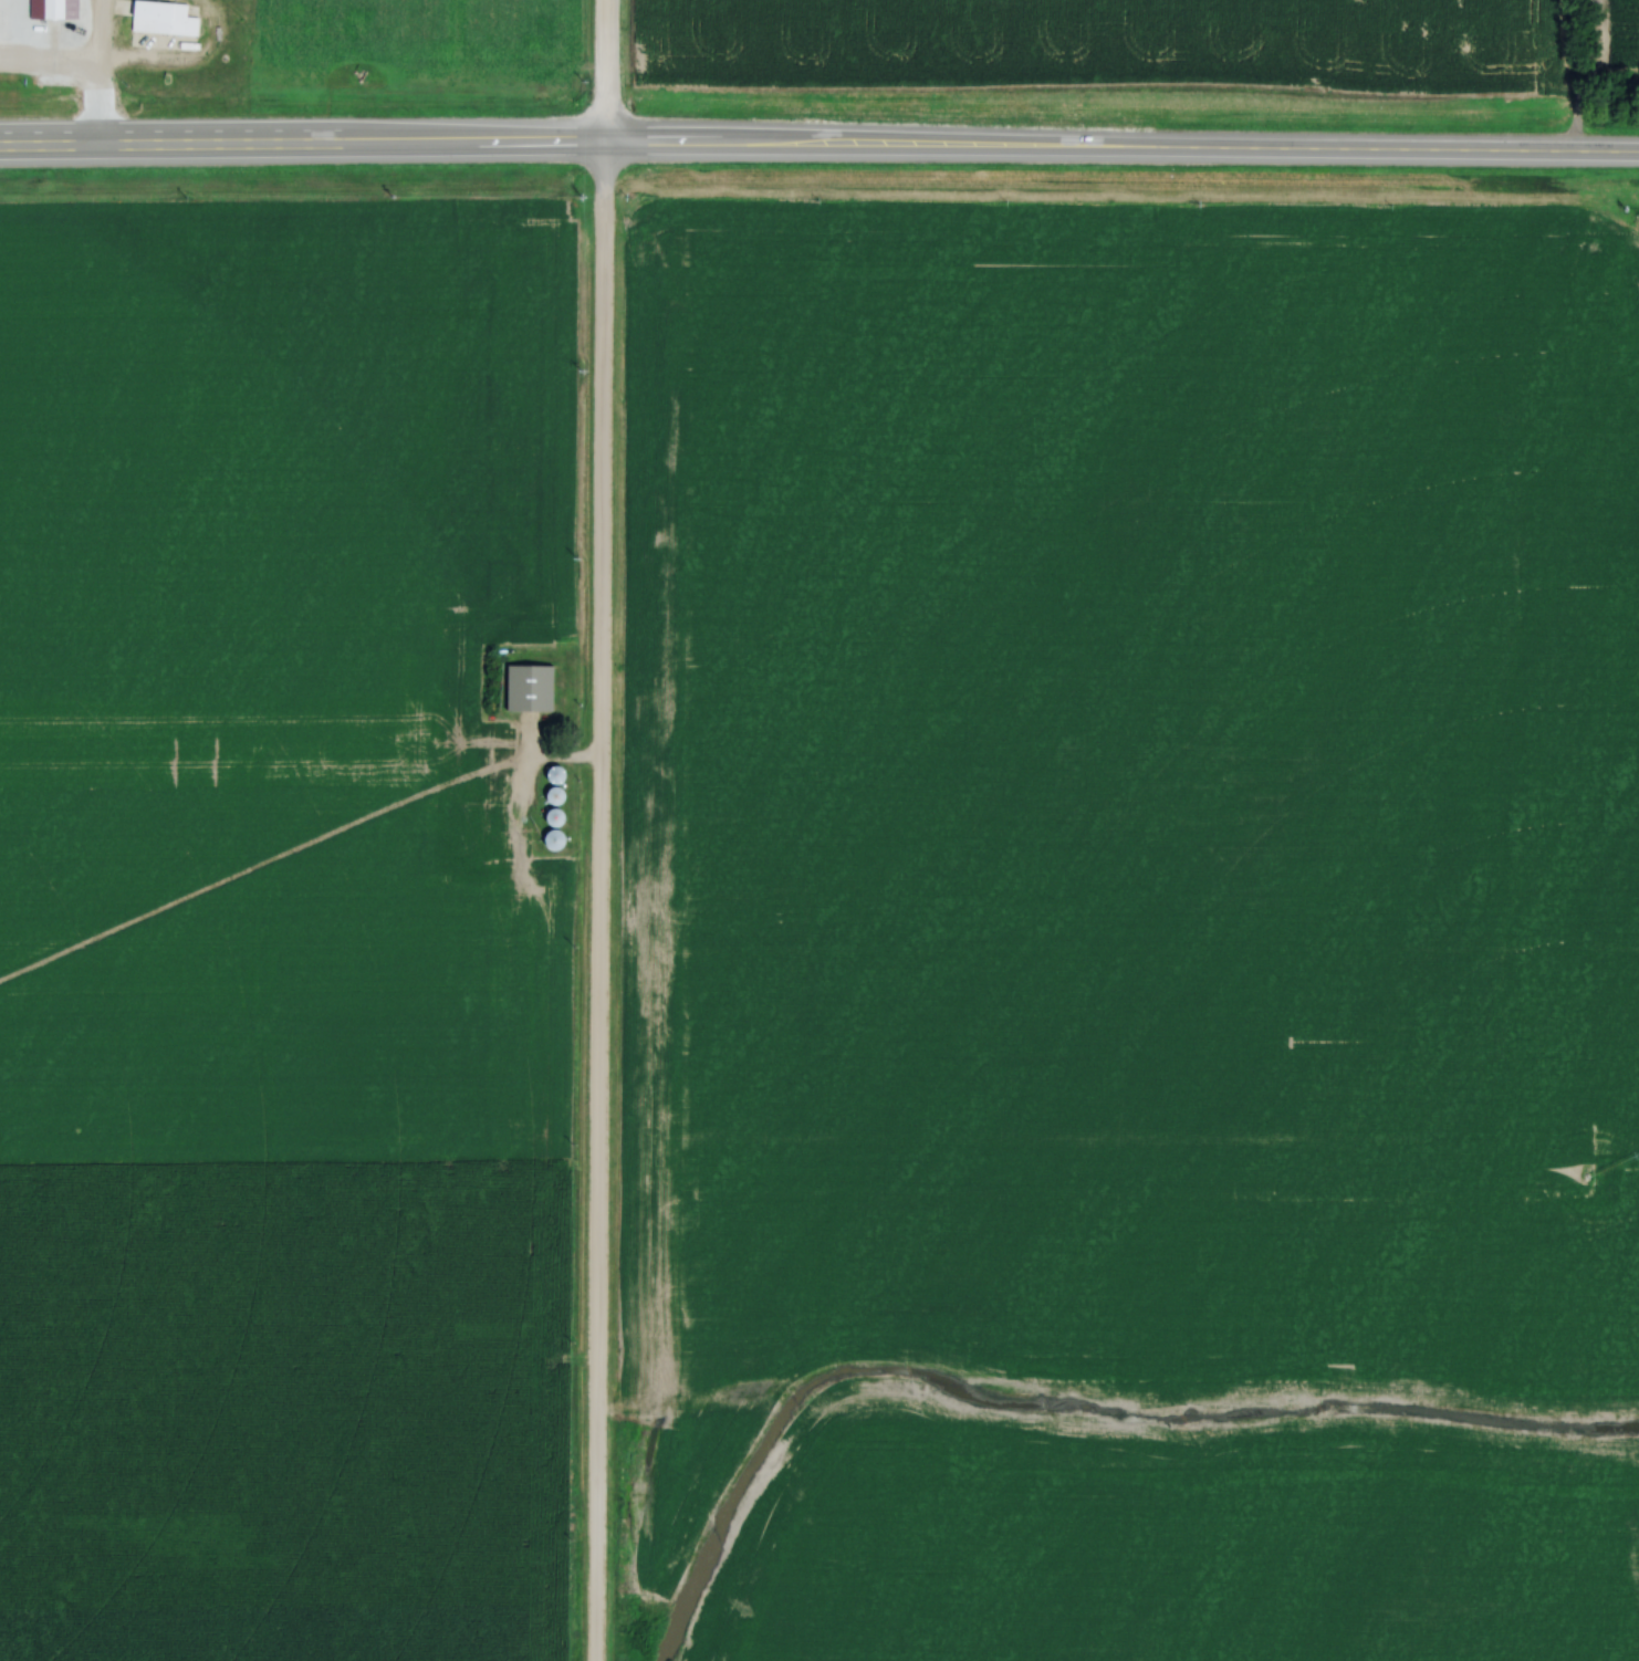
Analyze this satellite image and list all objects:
building: (52, 11)
building: (160, 18)
road: (143, 64)
road: (95, 74)
road: (818, 146)
building: (530, 688)
building: (556, 795)
building: (555, 816)
road: (598, 829)
building: (553, 838)

